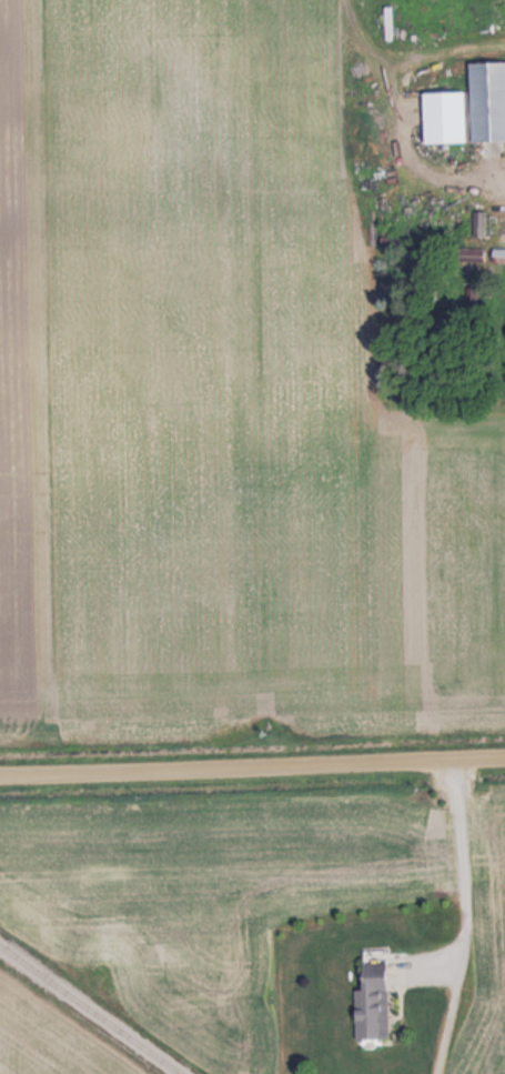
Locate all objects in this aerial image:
building: (484, 101)
building: (438, 117)
building: (463, 254)
building: (504, 299)
road: (252, 769)
building: (367, 1001)
railway: (91, 1010)

